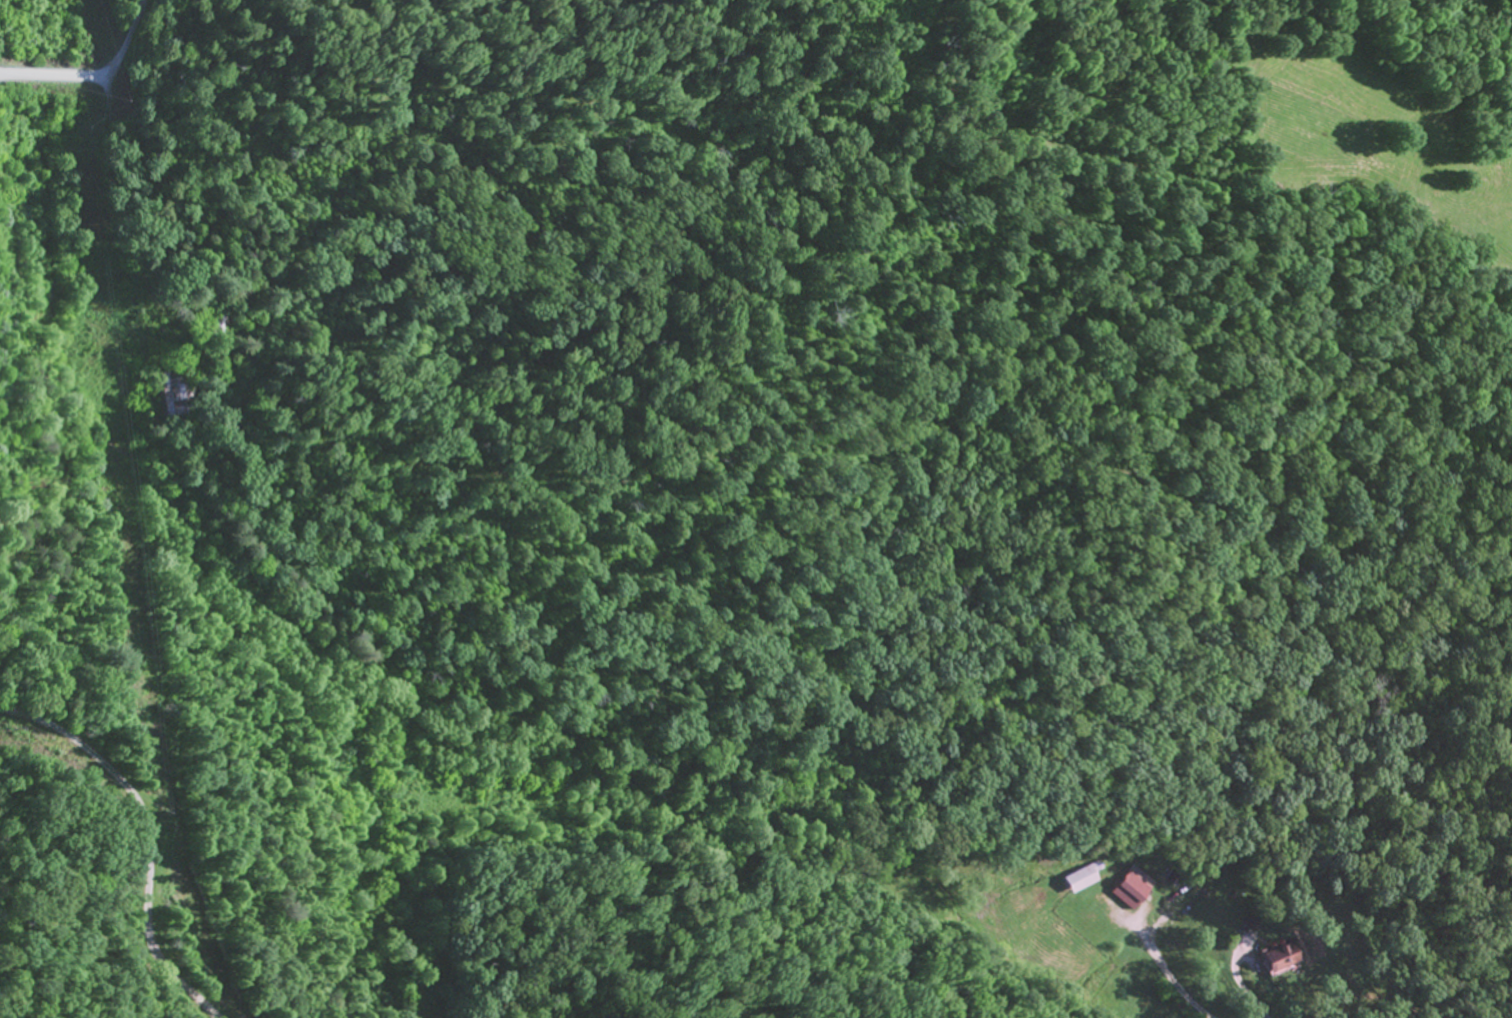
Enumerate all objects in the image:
road: (94, 75)
building: (1085, 879)
building: (1132, 893)
road: (1307, 932)
building: (1280, 960)
road: (1163, 970)

